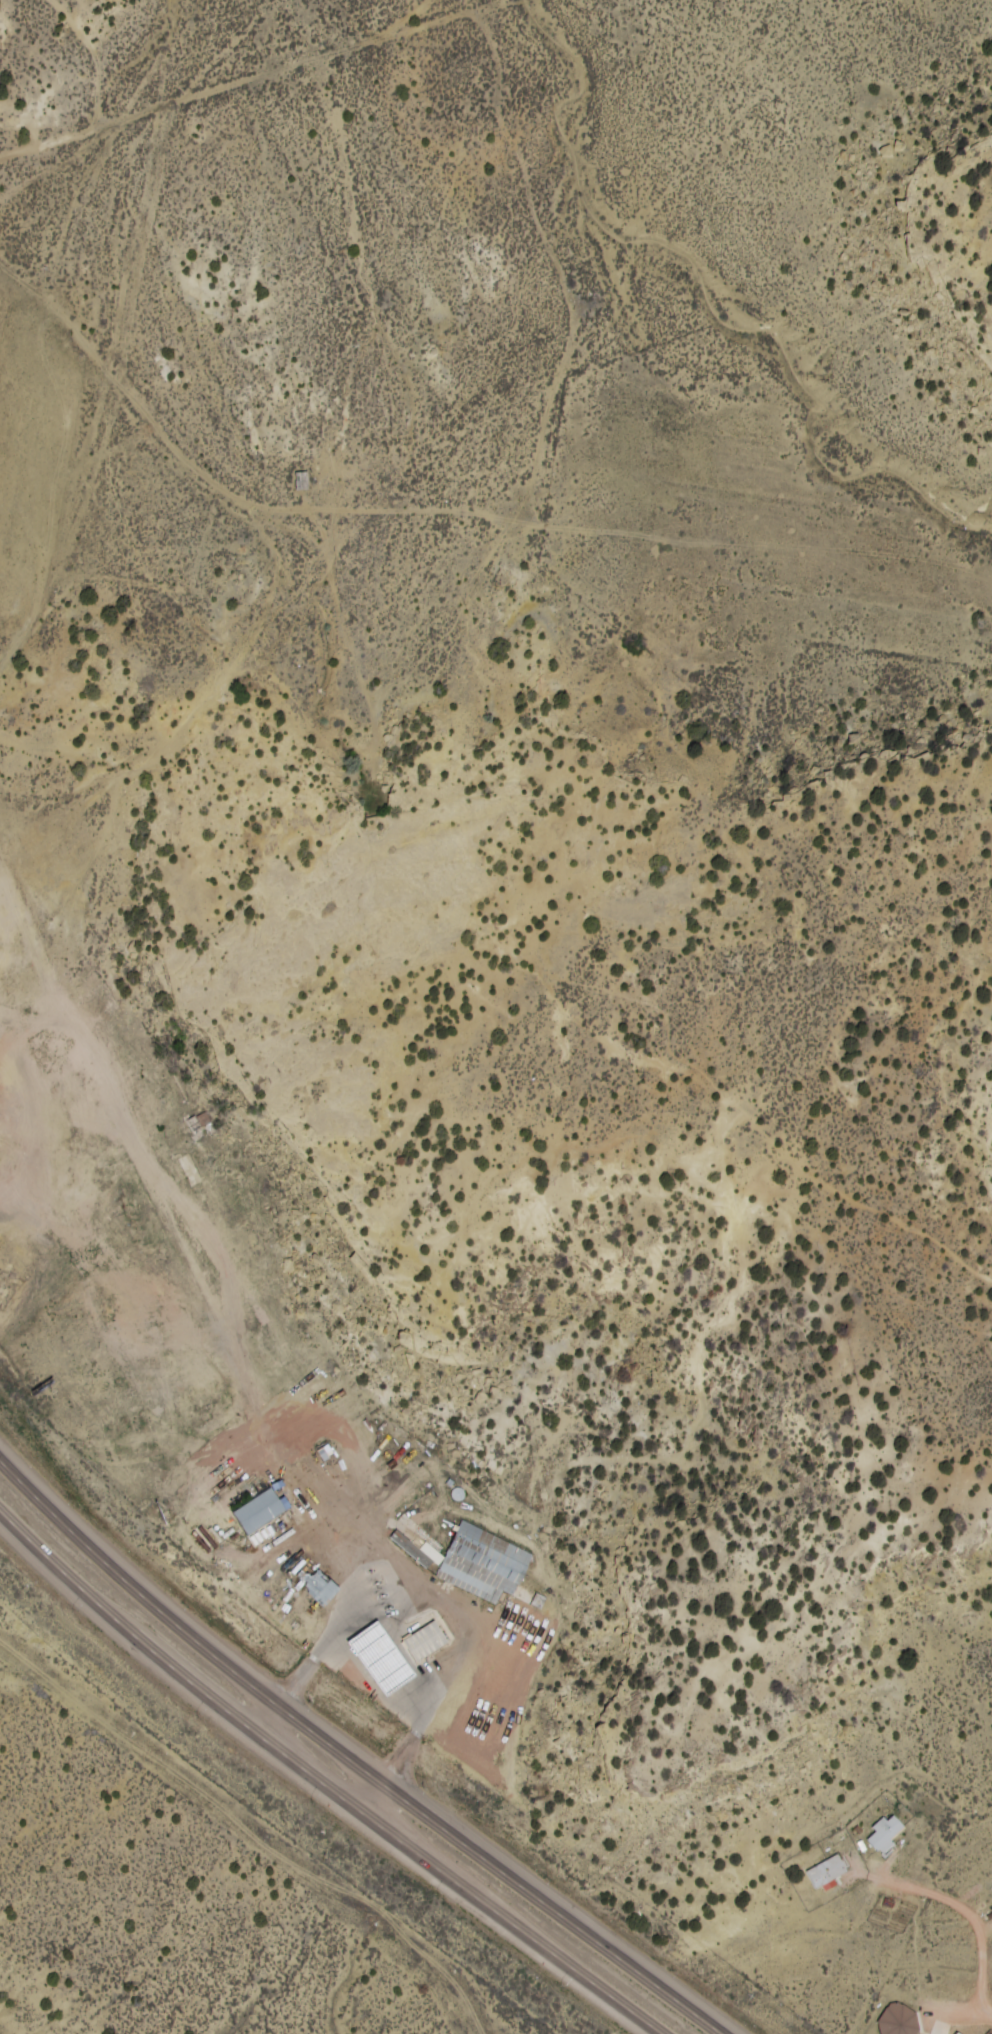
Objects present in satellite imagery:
road: (90, 58)
road: (221, 92)
building: (303, 479)
road: (217, 482)
road: (199, 673)
road: (39, 949)
building: (188, 1169)
road: (240, 1341)
building: (261, 1510)
building: (318, 1583)
building: (494, 1601)
building: (427, 1640)
building: (383, 1657)
gas station: (383, 1657)
road: (349, 1759)
road: (321, 1782)
building: (886, 1832)
building: (828, 1871)
building: (901, 2019)

